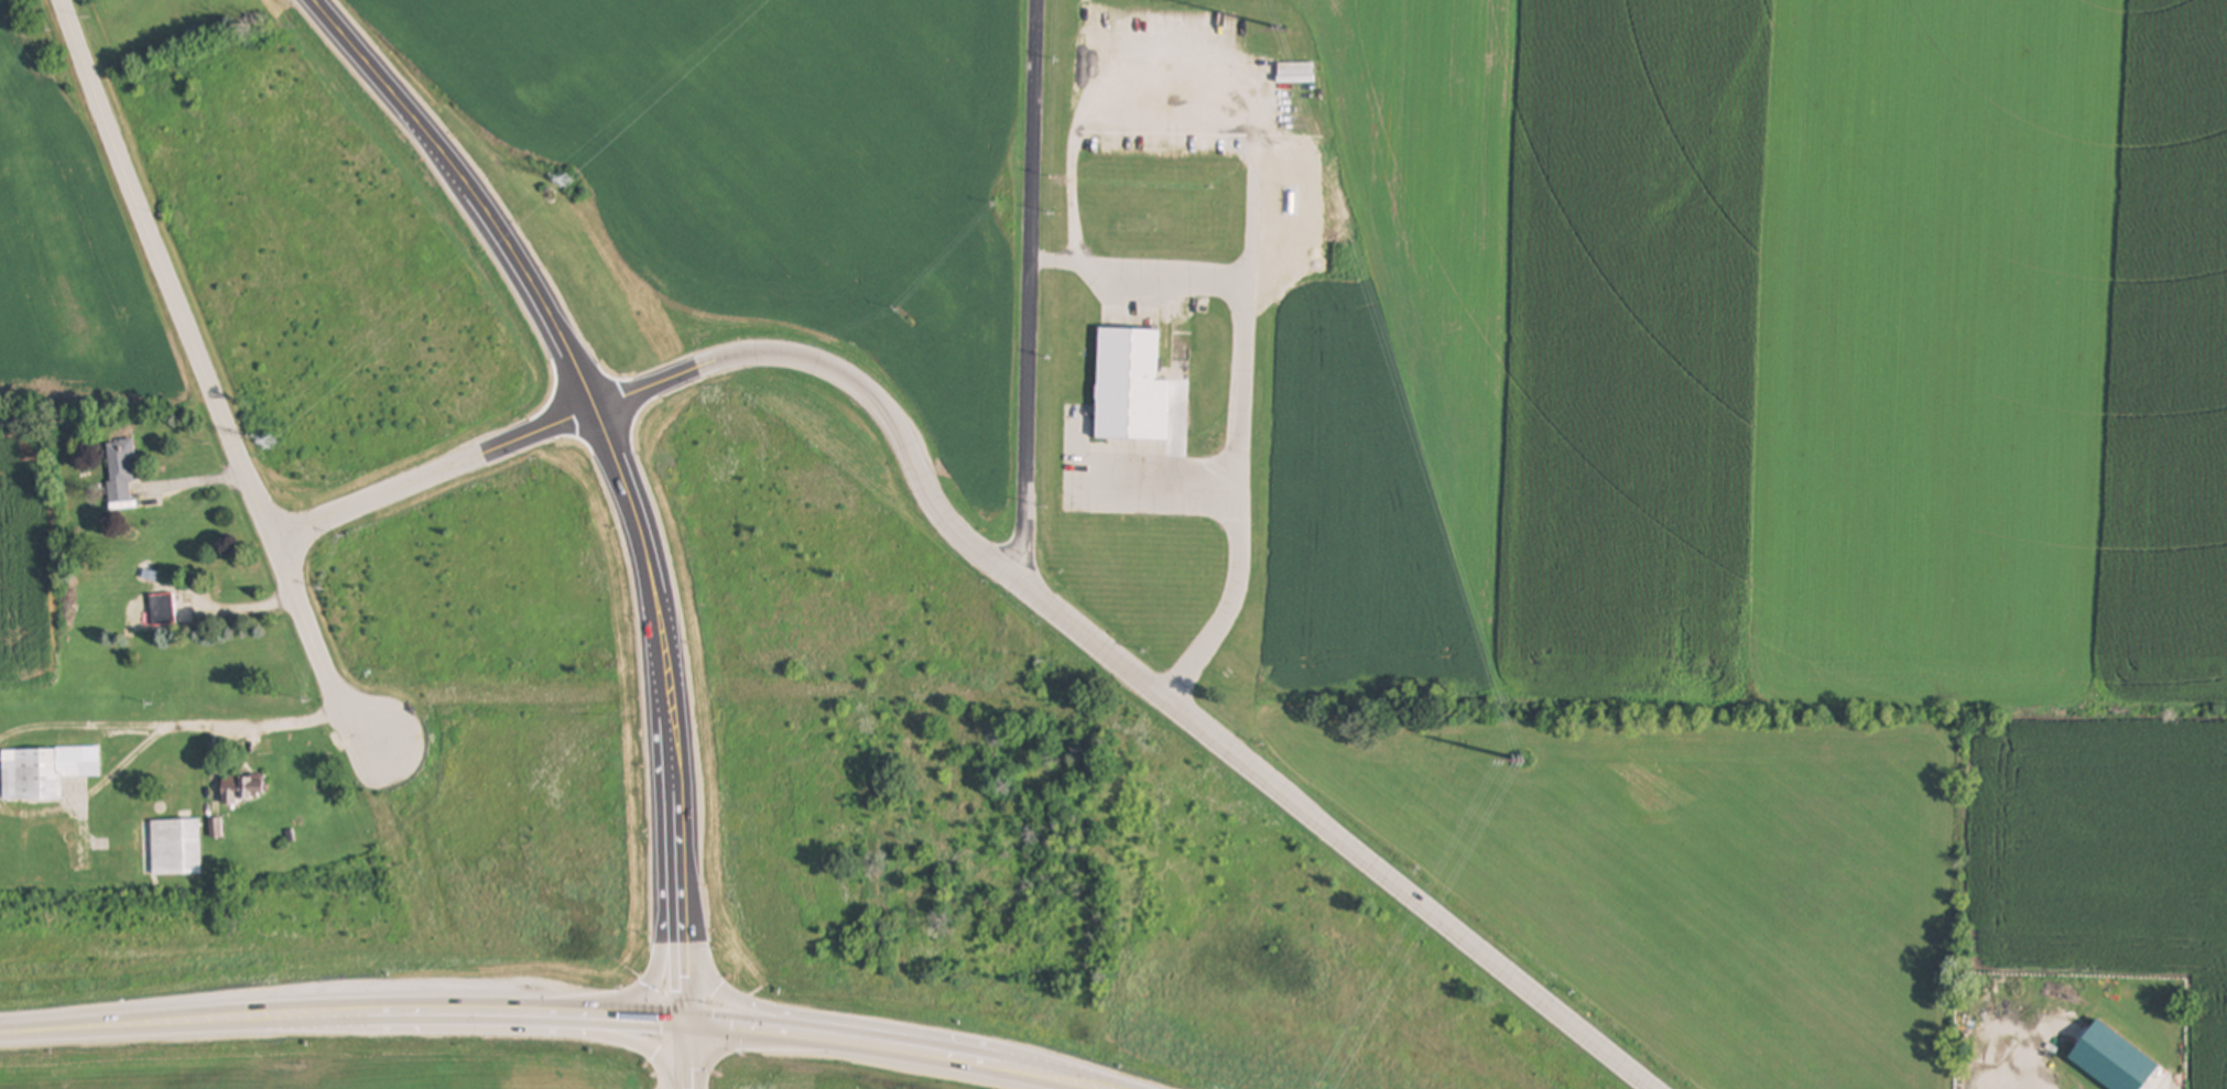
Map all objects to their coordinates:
power tower: (1288, 32)
road: (1177, 104)
power tower: (568, 179)
crop: (760, 186)
road: (532, 284)
road: (1031, 290)
crop: (62, 316)
road: (208, 379)
building: (1131, 386)
road: (1247, 389)
power tower: (272, 442)
building: (121, 469)
road: (435, 475)
road: (1171, 489)
building: (163, 610)
road: (1125, 667)
road: (252, 723)
road: (79, 726)
power tower: (1519, 762)
building: (44, 771)
road: (676, 776)
building: (242, 789)
road: (91, 796)
road: (661, 832)
building: (175, 847)
road: (684, 980)
road: (427, 1013)
road: (641, 1019)
traffic signals: (686, 1024)
road: (129, 1025)
road: (887, 1031)
road: (480, 1032)
road: (897, 1050)
road: (687, 1056)
road: (2018, 1085)

